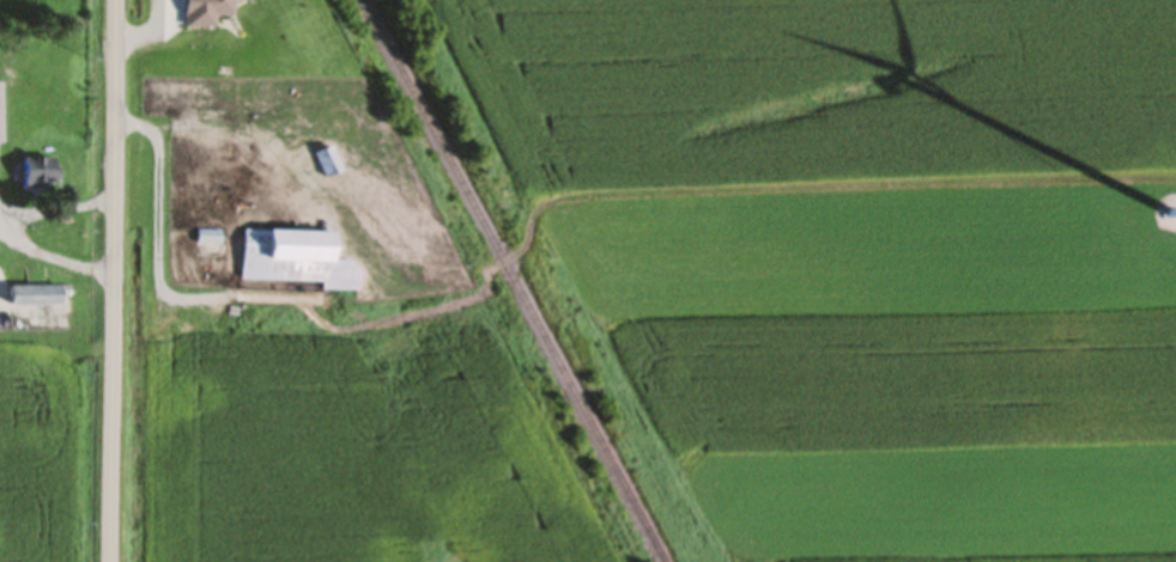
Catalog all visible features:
building: (2, 103)
building: (323, 169)
building: (35, 179)
building: (207, 187)
road: (298, 189)
wind turbine: (1170, 218)
road: (816, 237)
road: (154, 252)
building: (293, 264)
road: (107, 280)
railway: (507, 281)
building: (35, 301)

